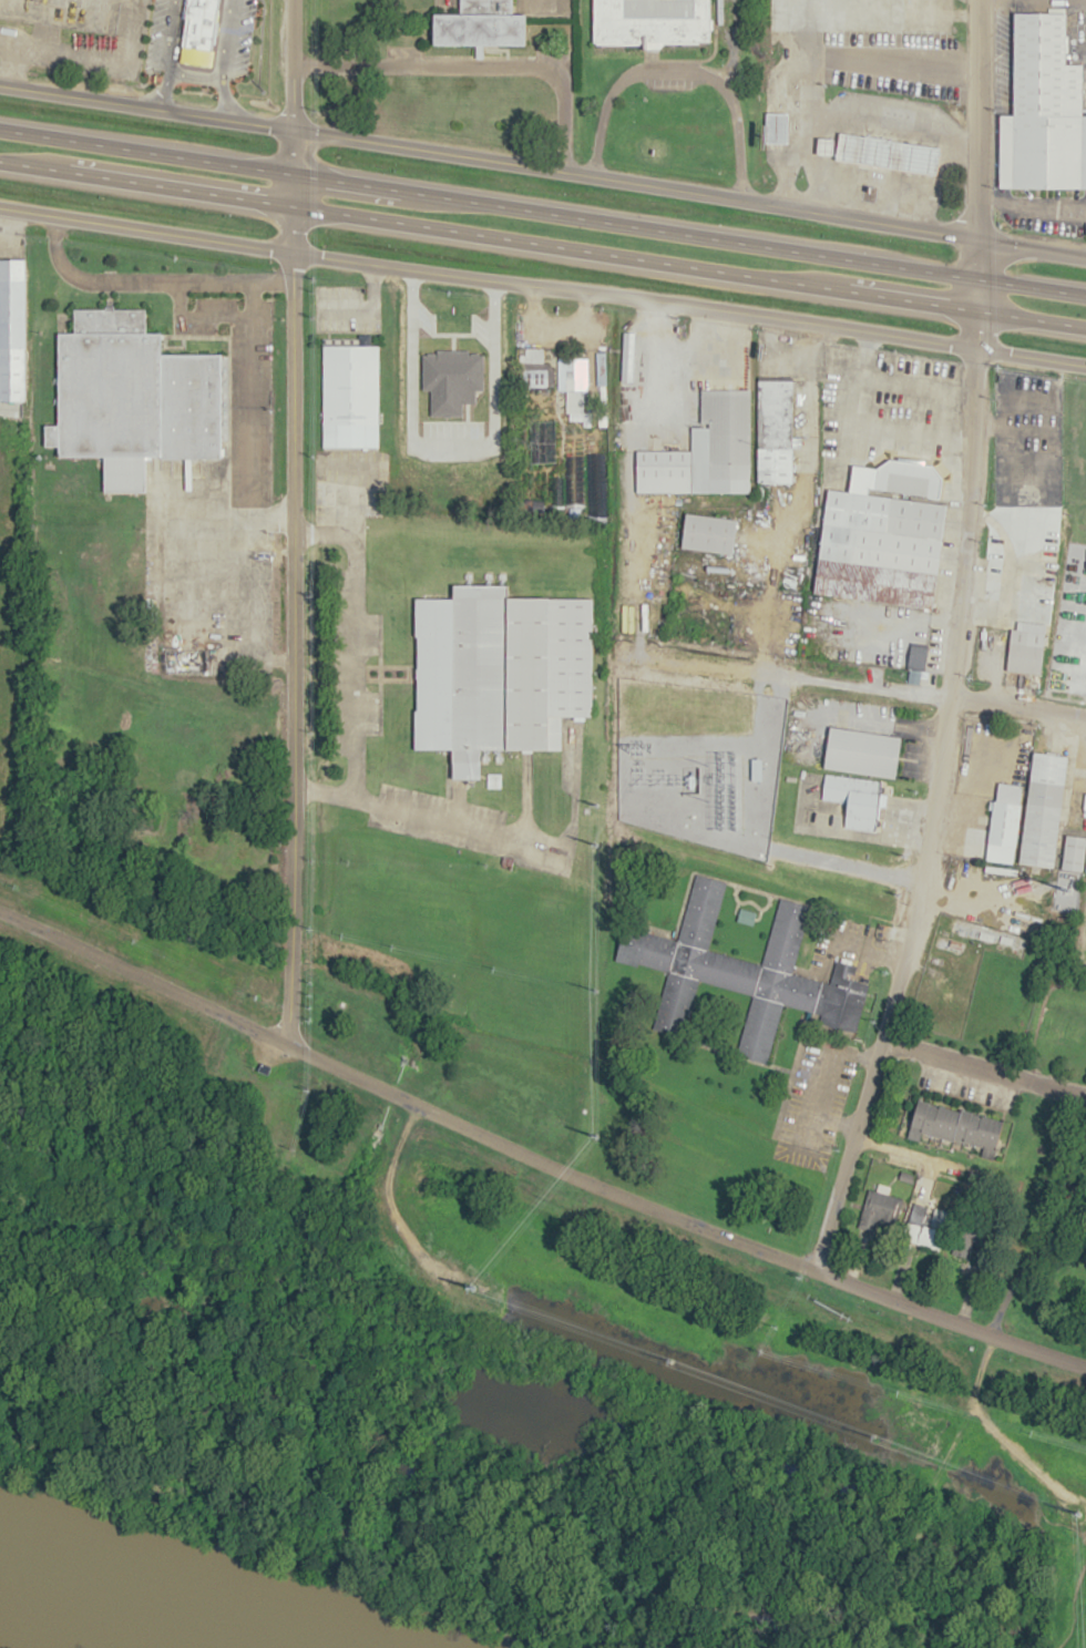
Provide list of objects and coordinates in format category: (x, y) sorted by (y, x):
building: (650, 21)
building: (481, 24)
building: (198, 31)
road: (59, 44)
road: (119, 50)
building: (1044, 109)
building: (775, 126)
building: (888, 152)
road: (543, 166)
road: (542, 211)
road: (542, 244)
road: (542, 286)
building: (11, 329)
building: (532, 367)
building: (571, 381)
building: (349, 396)
building: (131, 397)
building: (773, 431)
building: (546, 441)
building: (705, 451)
building: (572, 474)
building: (908, 478)
road: (291, 523)
building: (708, 532)
building: (879, 549)
building: (1032, 616)
road: (949, 642)
building: (499, 671)
road: (925, 690)
building: (862, 751)
power substation: (697, 760)
building: (856, 799)
building: (1043, 809)
building: (1003, 830)
building: (1074, 851)
building: (740, 970)
road: (983, 1066)
building: (955, 1127)
road: (536, 1157)
building: (880, 1211)
building: (926, 1226)
building: (966, 1240)
road: (673, 1378)
river: (157, 1595)

